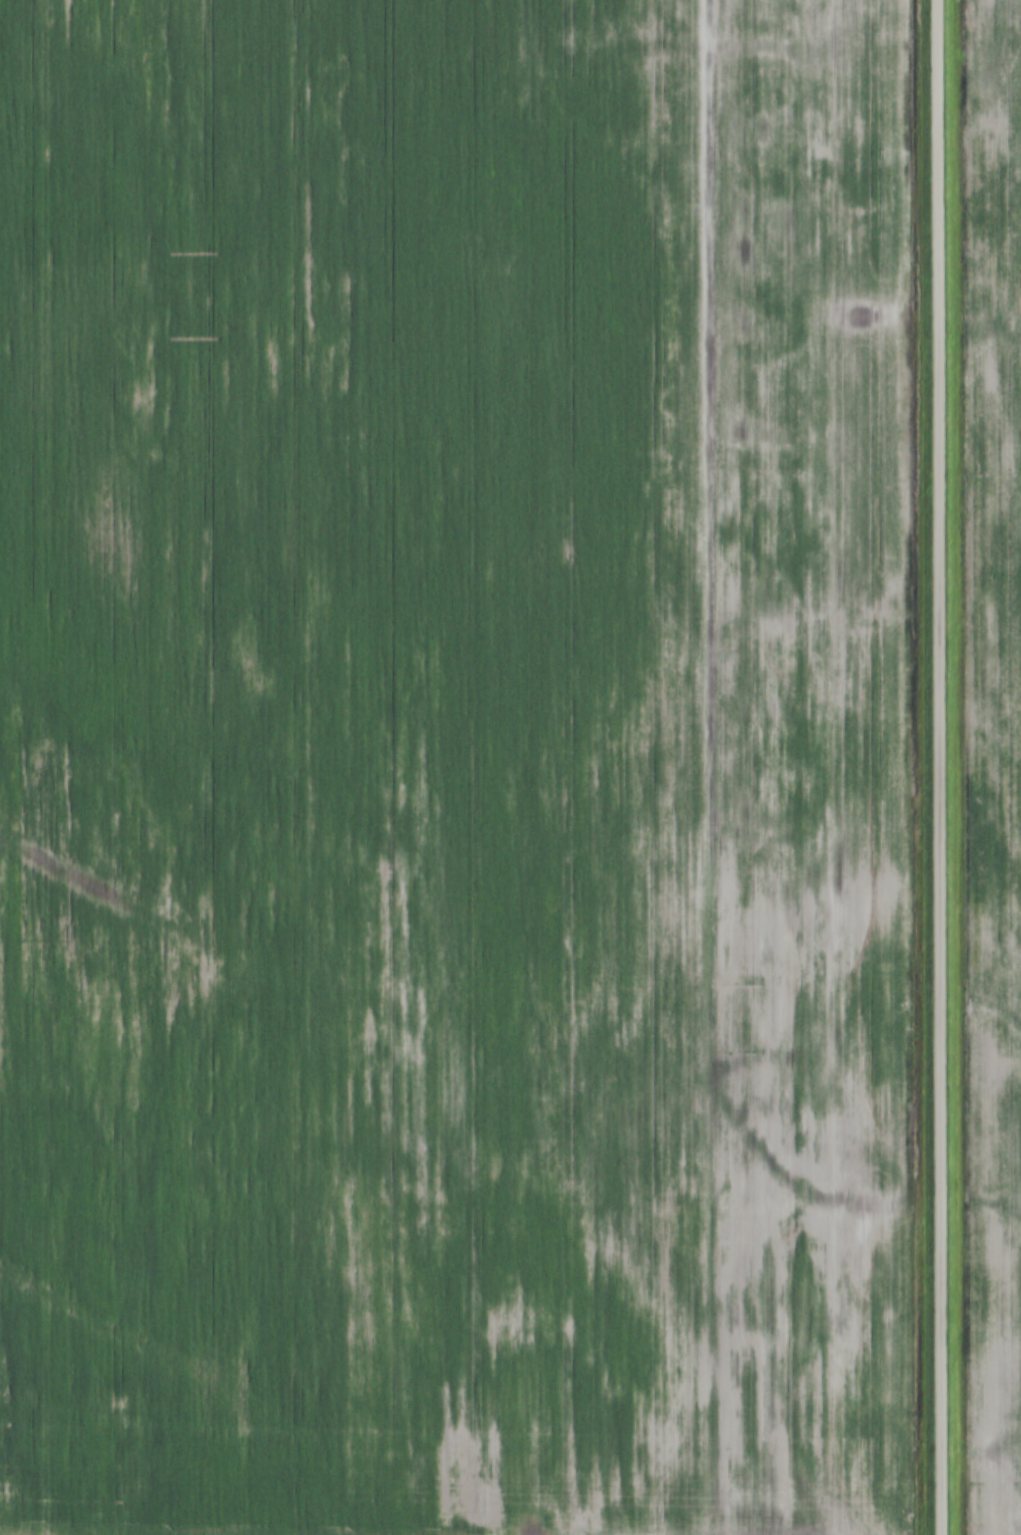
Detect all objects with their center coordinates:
road: (938, 767)

